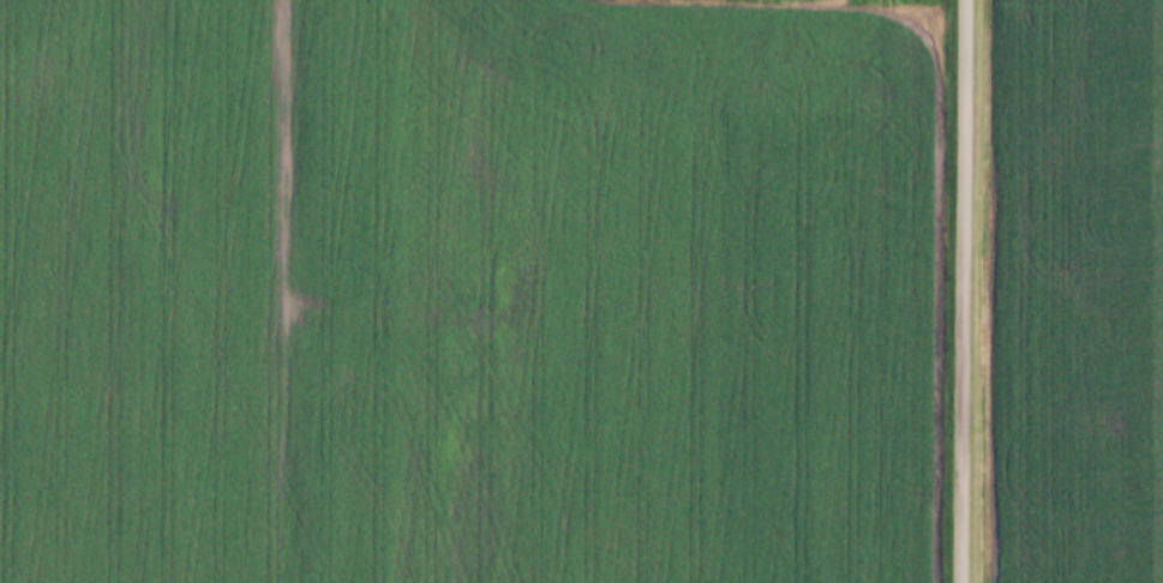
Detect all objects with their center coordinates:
road: (964, 291)

